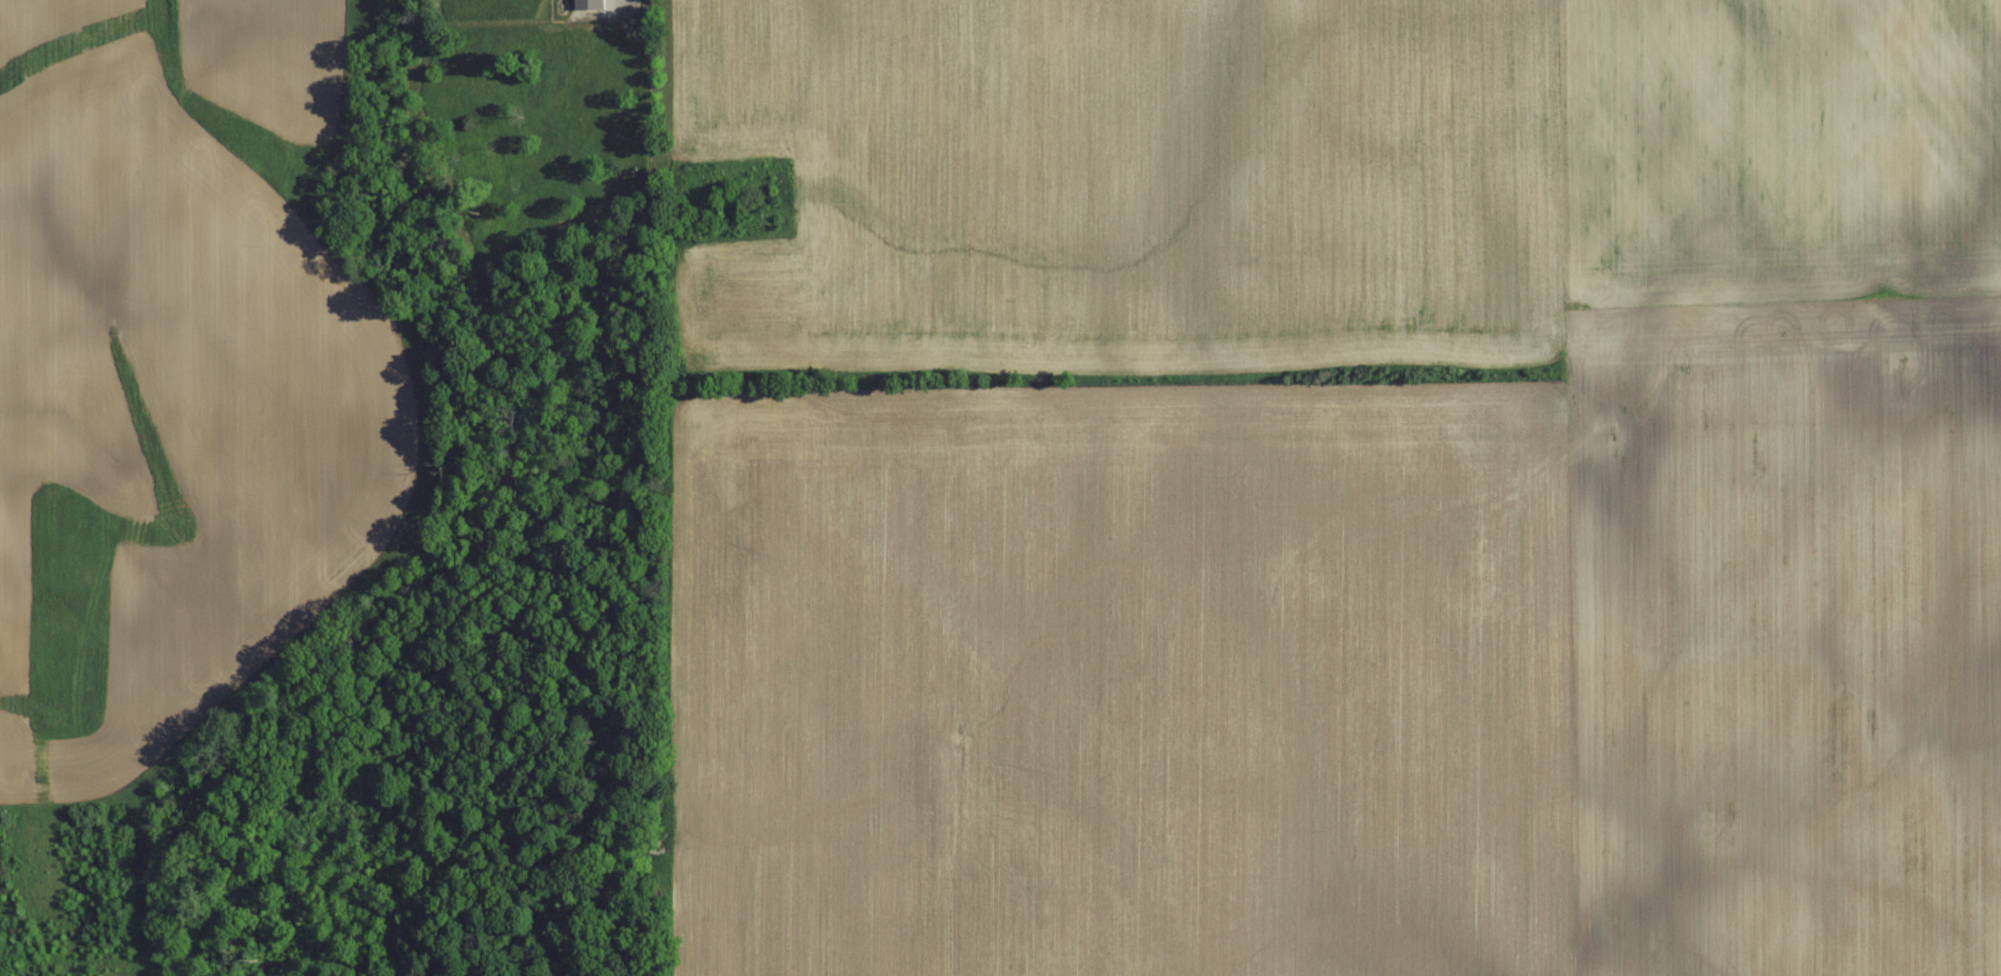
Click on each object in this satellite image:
building: (598, 3)

